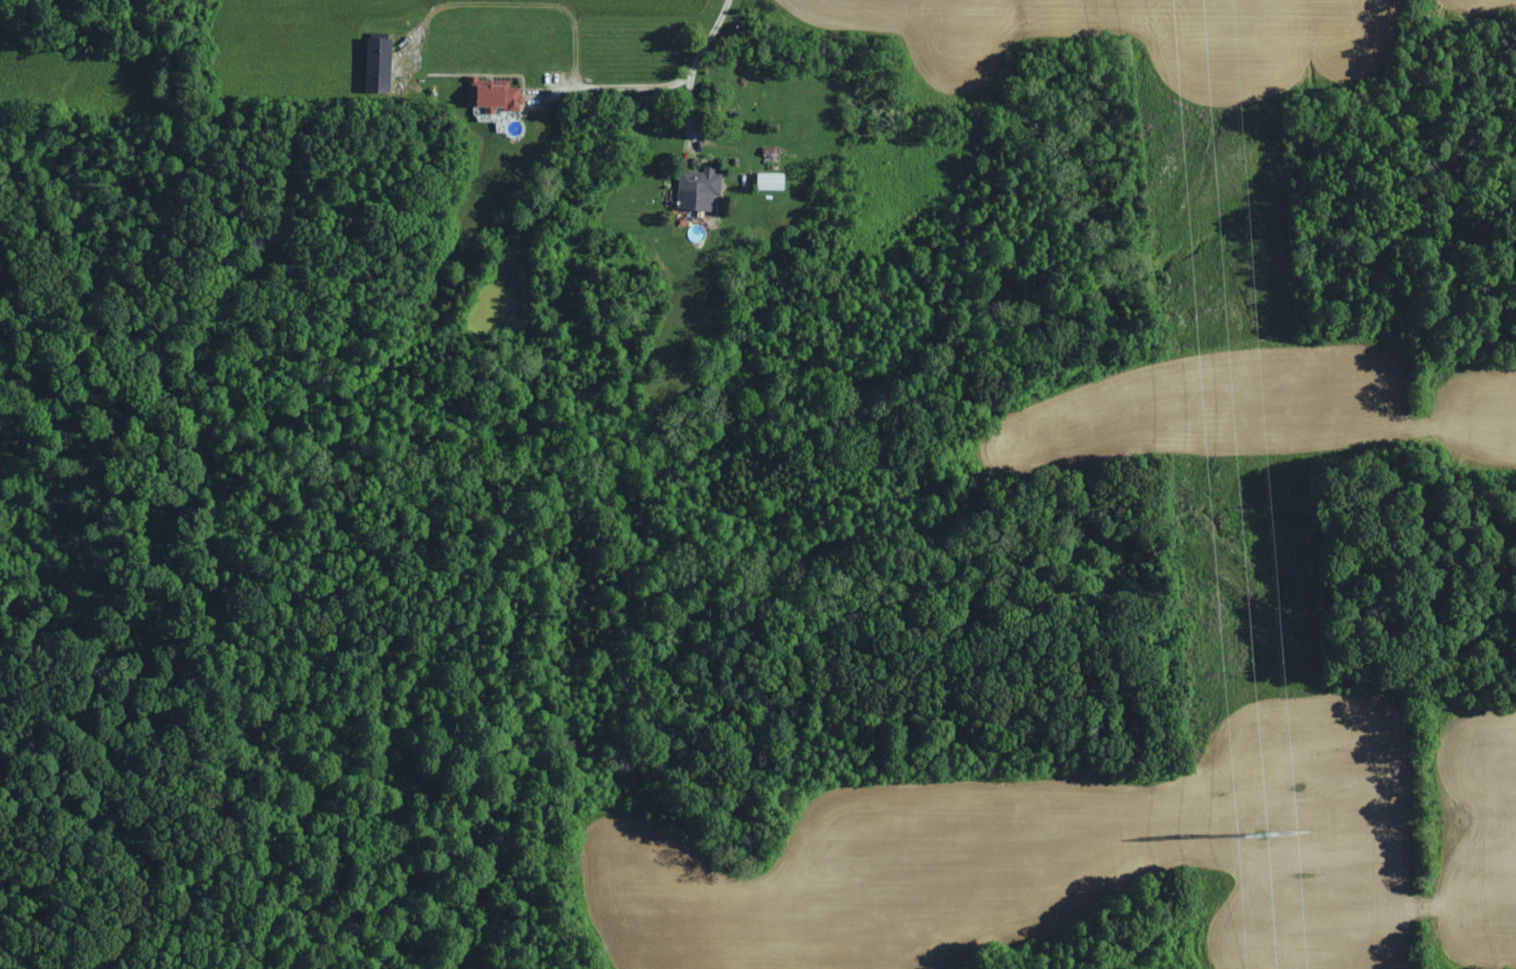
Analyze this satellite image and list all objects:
building: (383, 65)
building: (500, 97)
building: (774, 182)
building: (701, 189)
power tower: (1263, 835)

